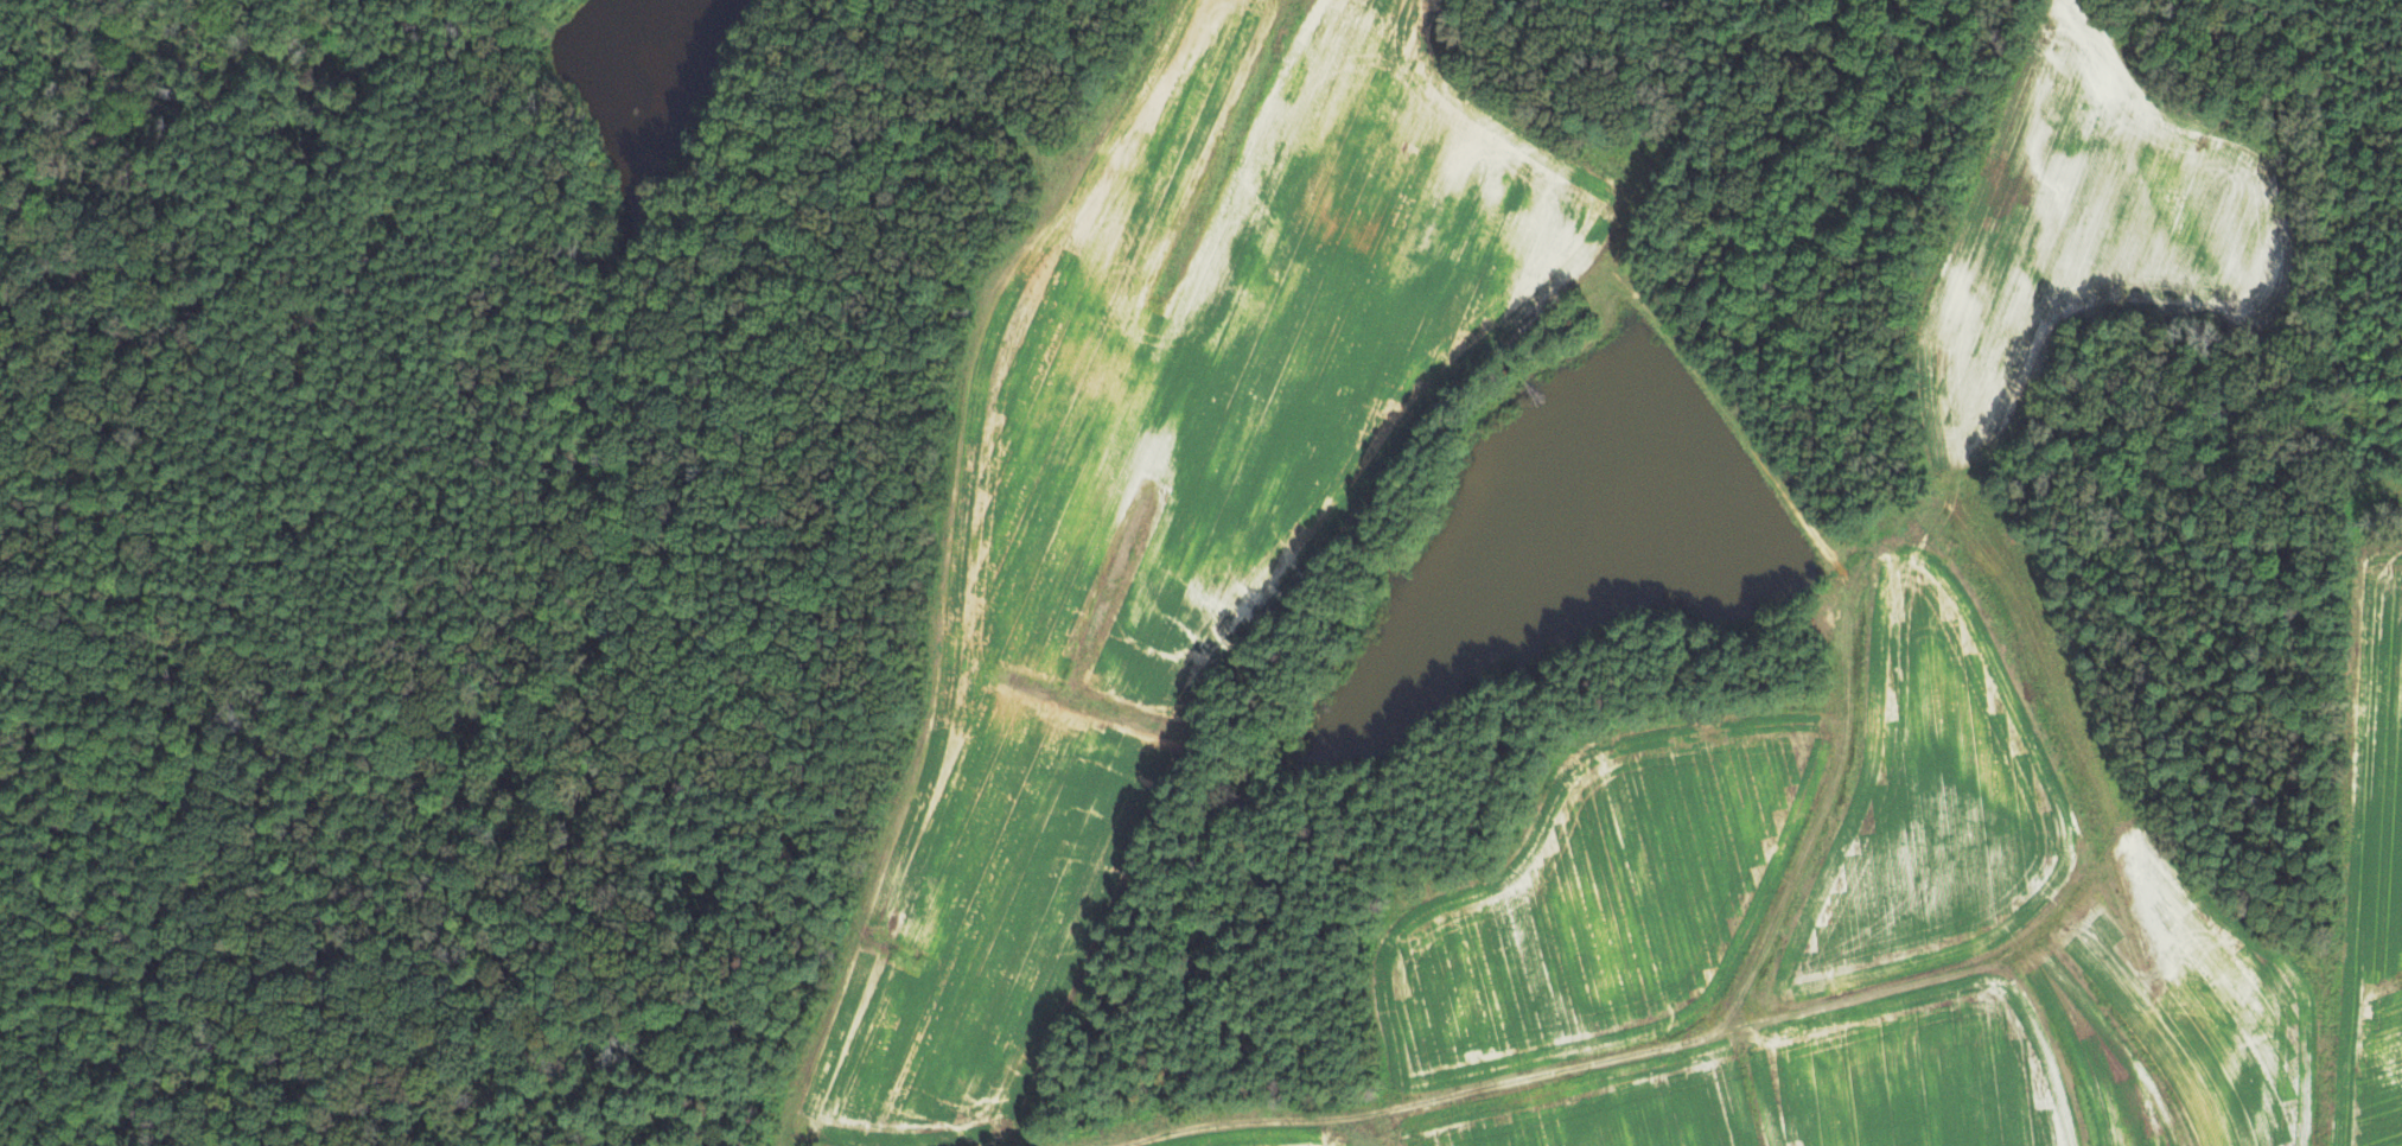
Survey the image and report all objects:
road: (1821, 1010)

